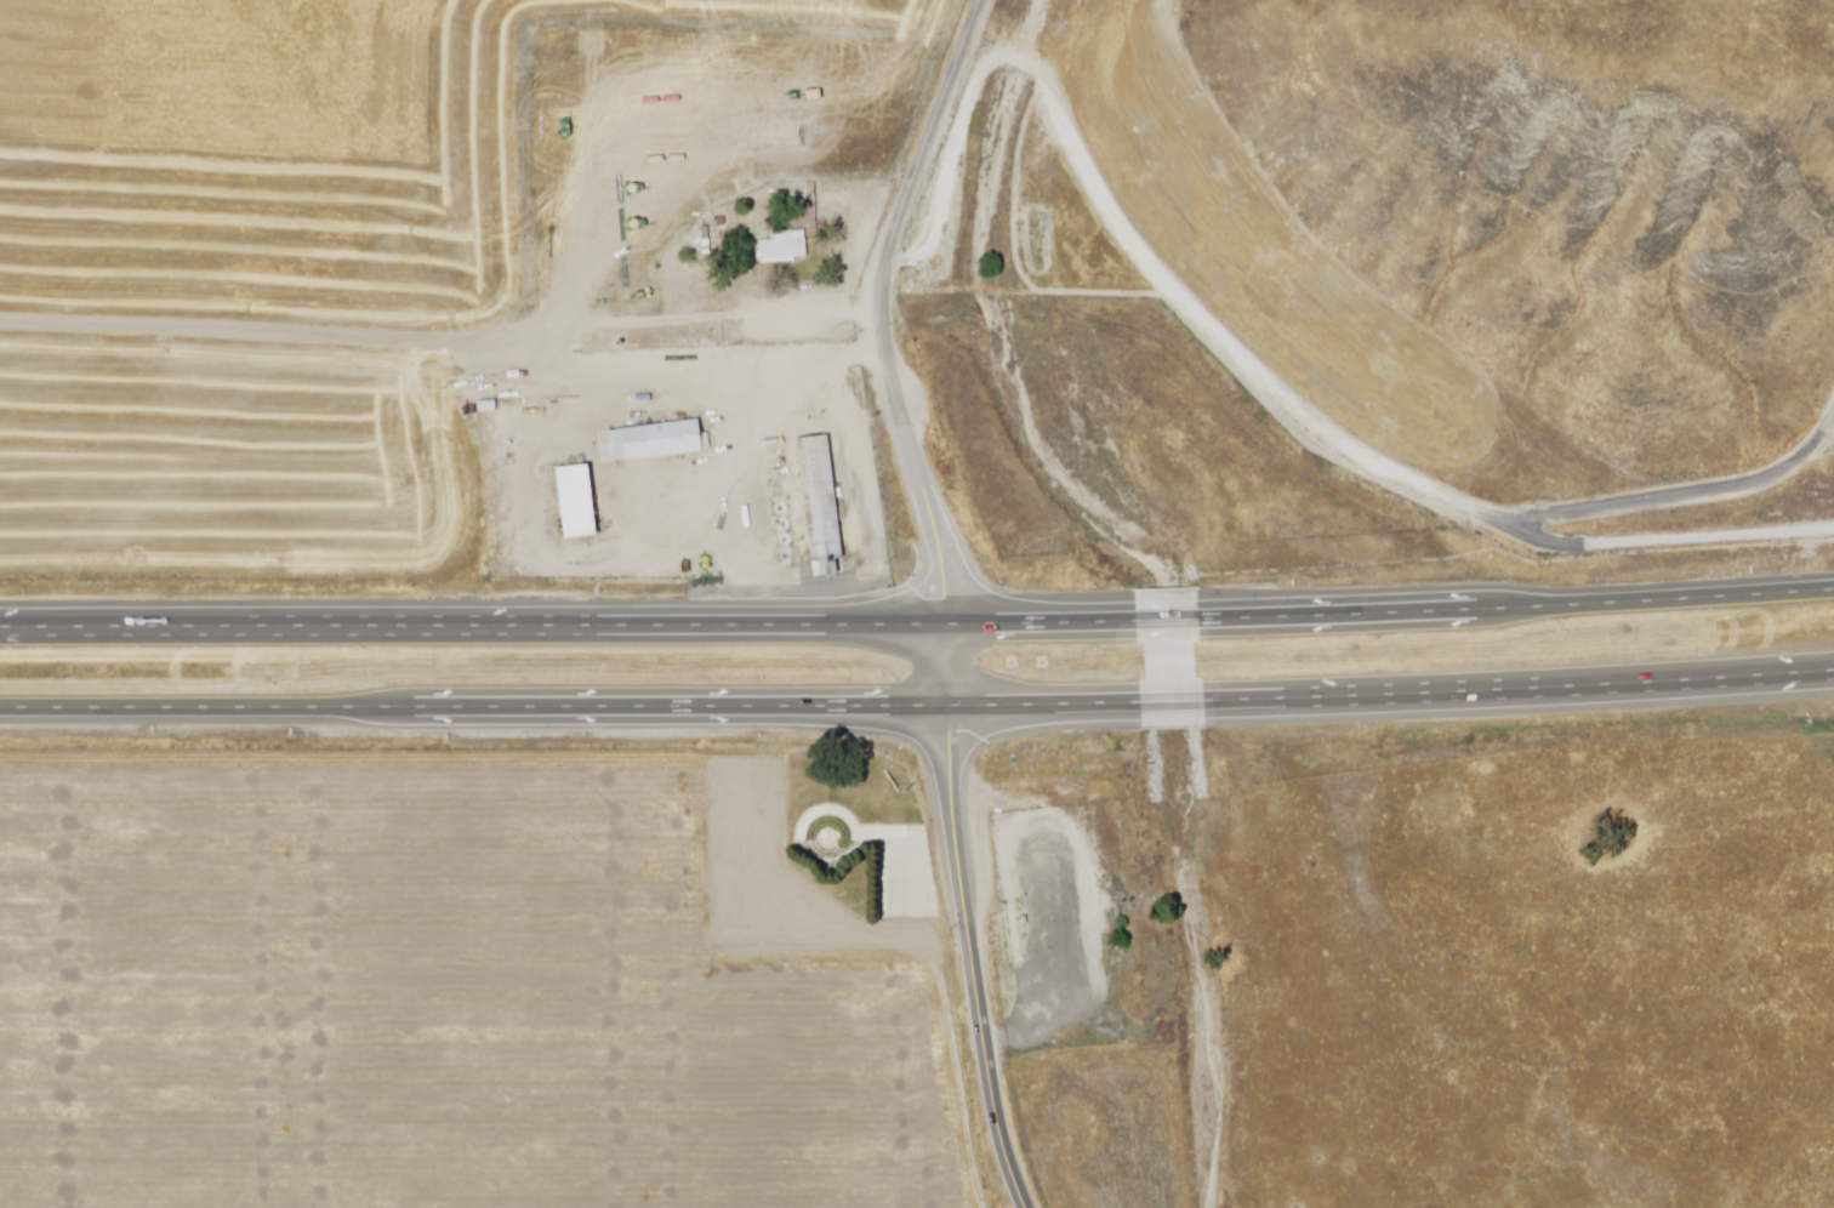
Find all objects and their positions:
building: (779, 246)
road: (879, 313)
road: (440, 331)
building: (653, 437)
building: (815, 496)
building: (573, 502)
road: (1807, 530)
crop: (1821, 575)
road: (1519, 619)
road: (1163, 633)
road: (1032, 636)
road: (469, 637)
road: (942, 668)
road: (1389, 693)
road: (471, 700)
fountain: (828, 833)
road: (968, 957)

